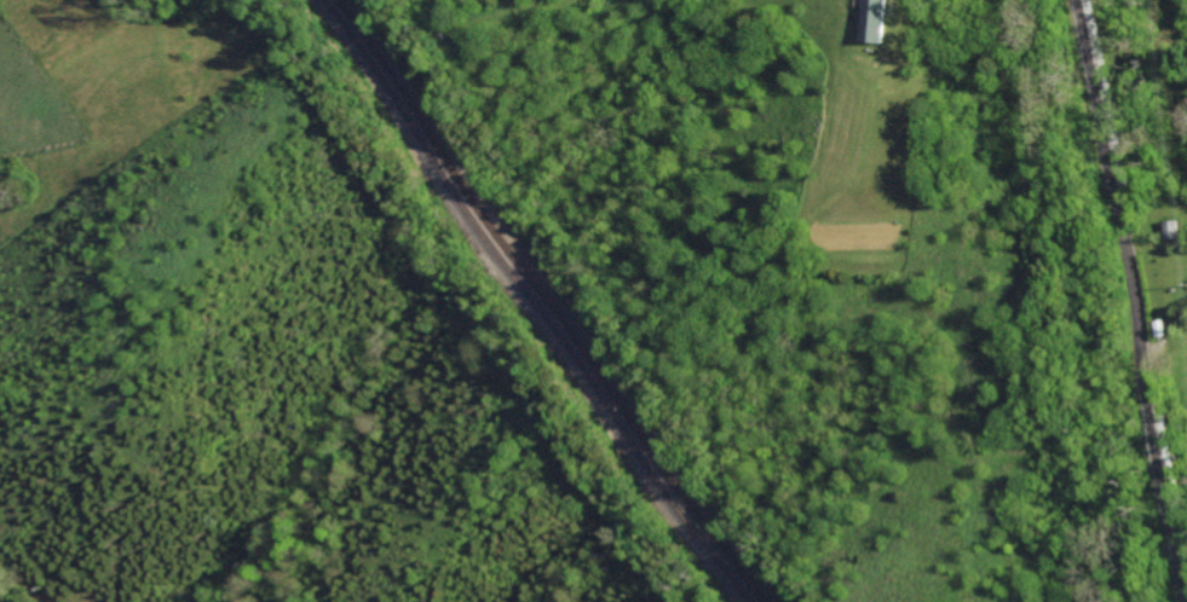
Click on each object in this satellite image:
building: (876, 21)
railway: (536, 300)
railway: (547, 300)
road: (1134, 301)

